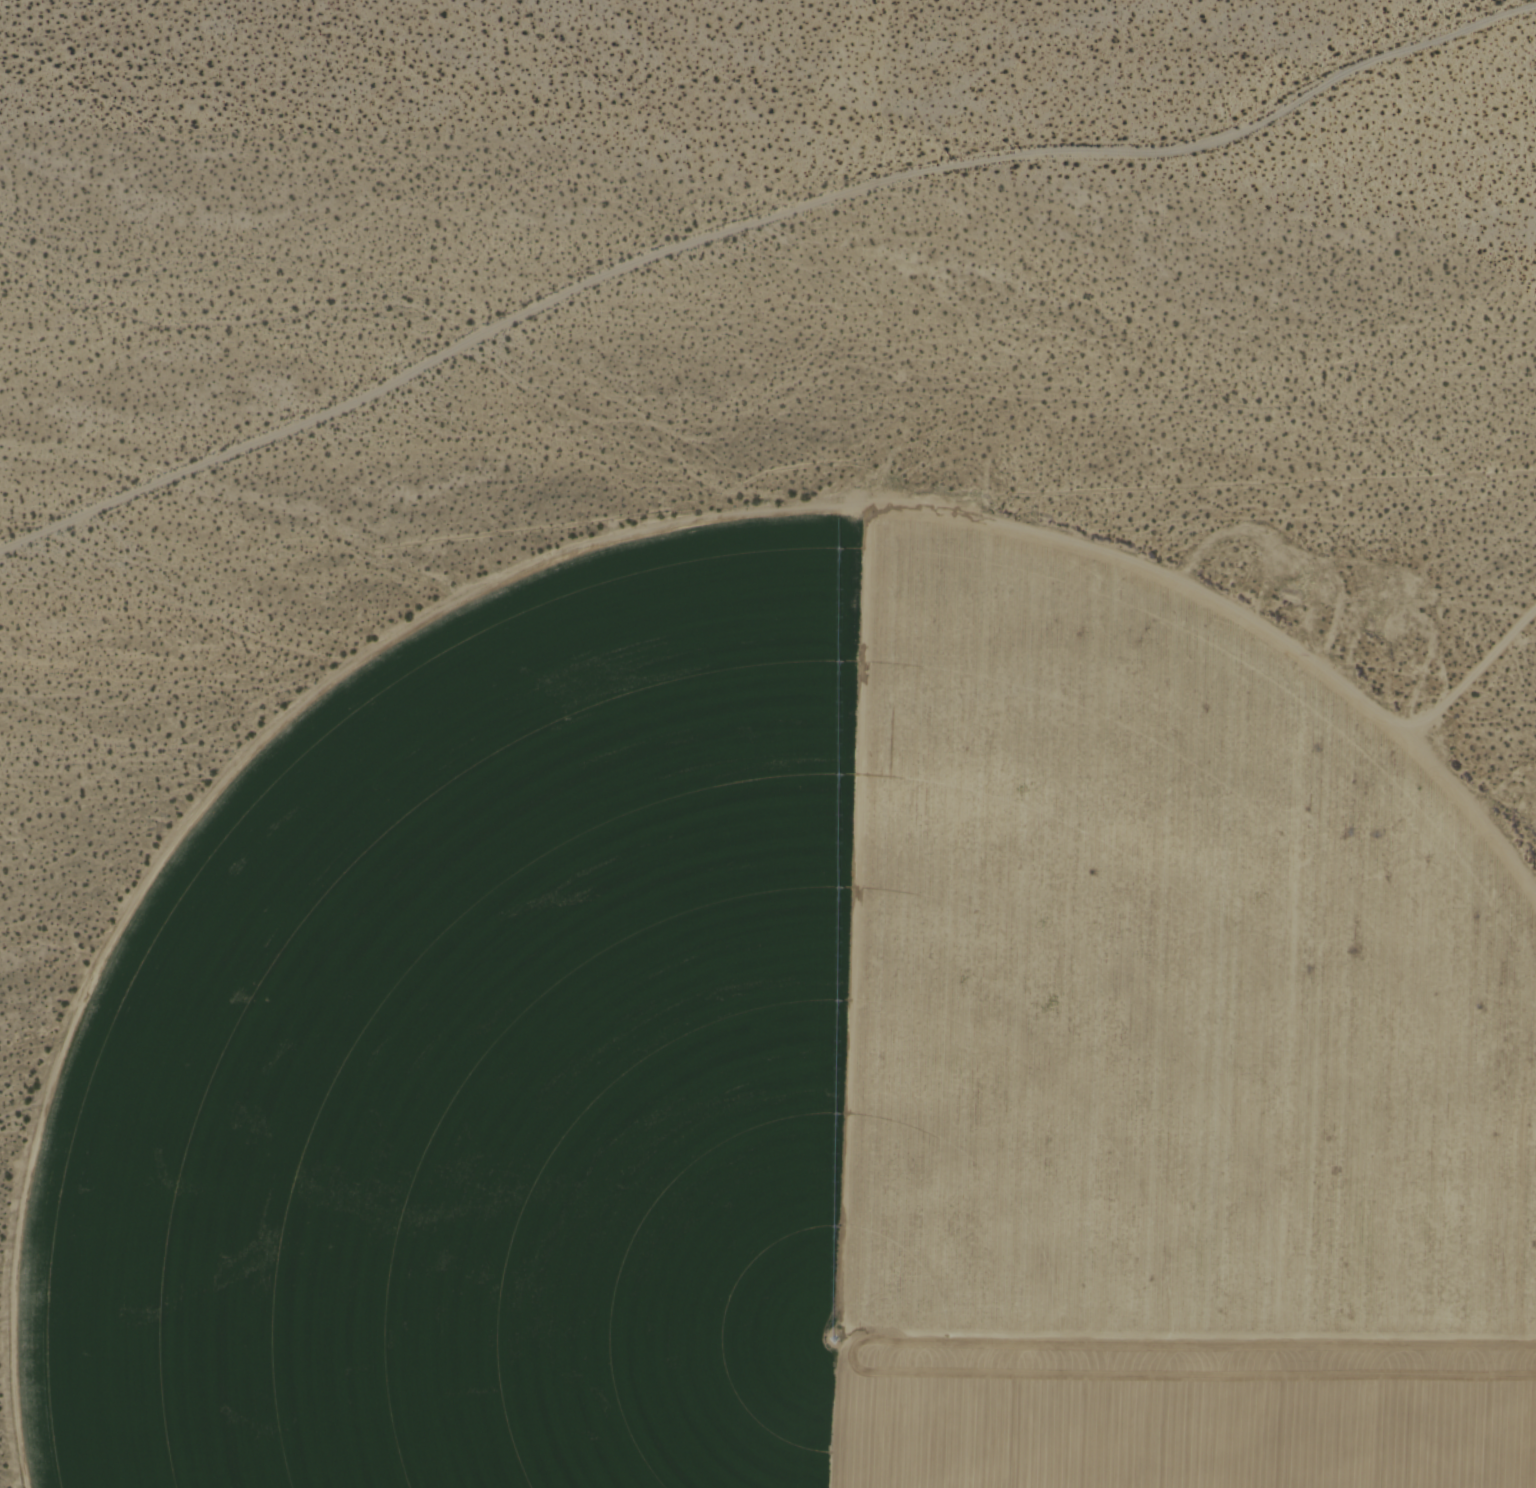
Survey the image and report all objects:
road: (753, 206)
crop: (782, 1042)

